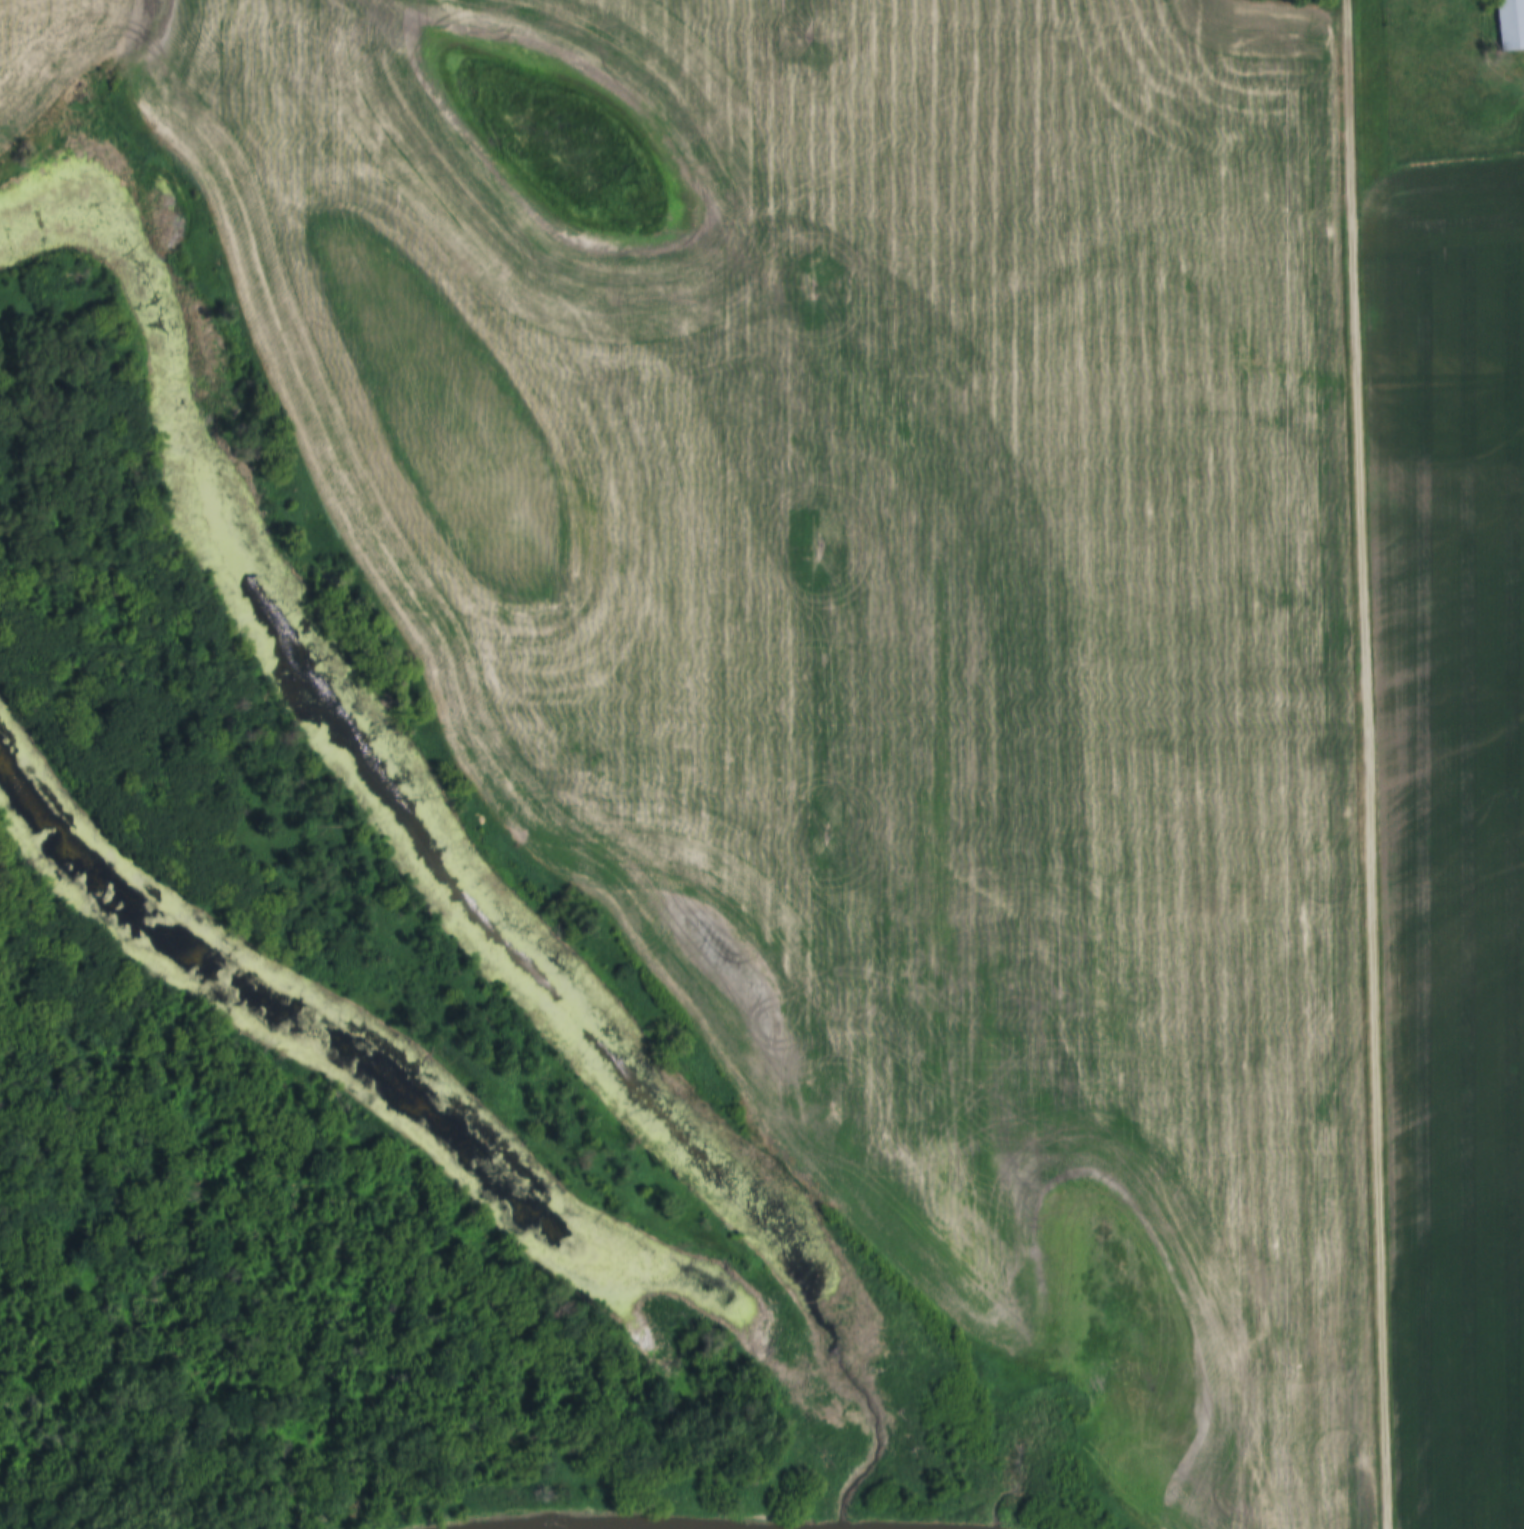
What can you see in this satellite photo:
building: (1506, 24)
building: (822, 542)
road: (1371, 764)

